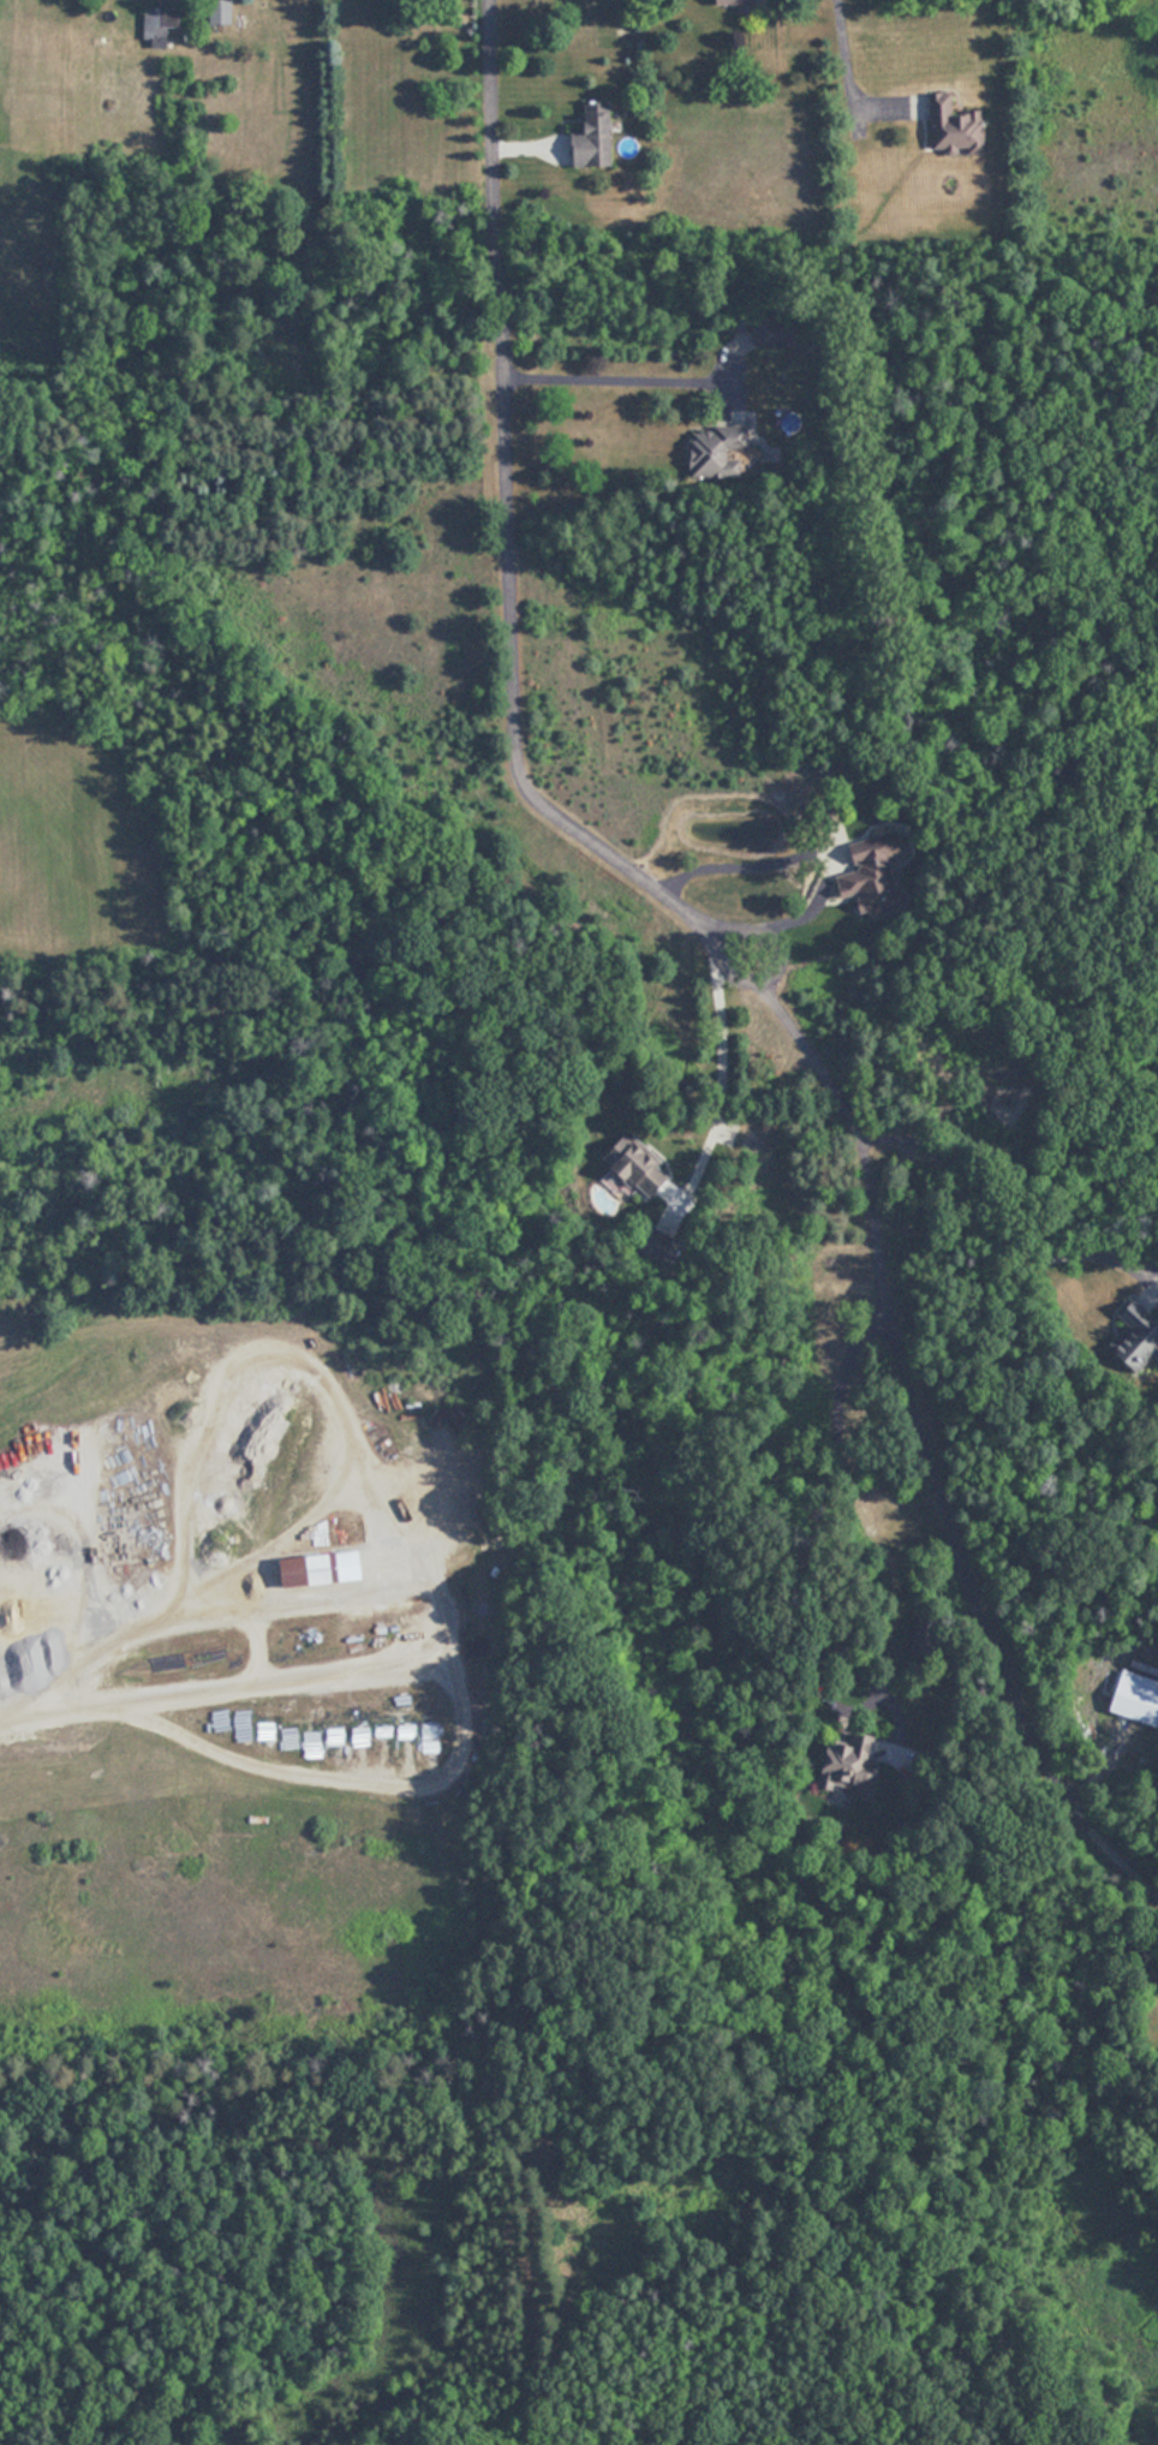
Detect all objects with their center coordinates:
building: (740, 1)
building: (160, 25)
road: (843, 64)
building: (957, 125)
building: (597, 135)
building: (777, 329)
road: (614, 380)
building: (718, 449)
road: (506, 509)
building: (875, 881)
road: (771, 973)
road: (716, 1086)
building: (644, 1170)
road: (926, 1453)
building: (354, 1566)
building: (309, 1570)
road: (192, 1574)
building: (926, 1634)
building: (1138, 1696)
building: (247, 1725)
road: (1, 1740)
park: (499, 2176)

